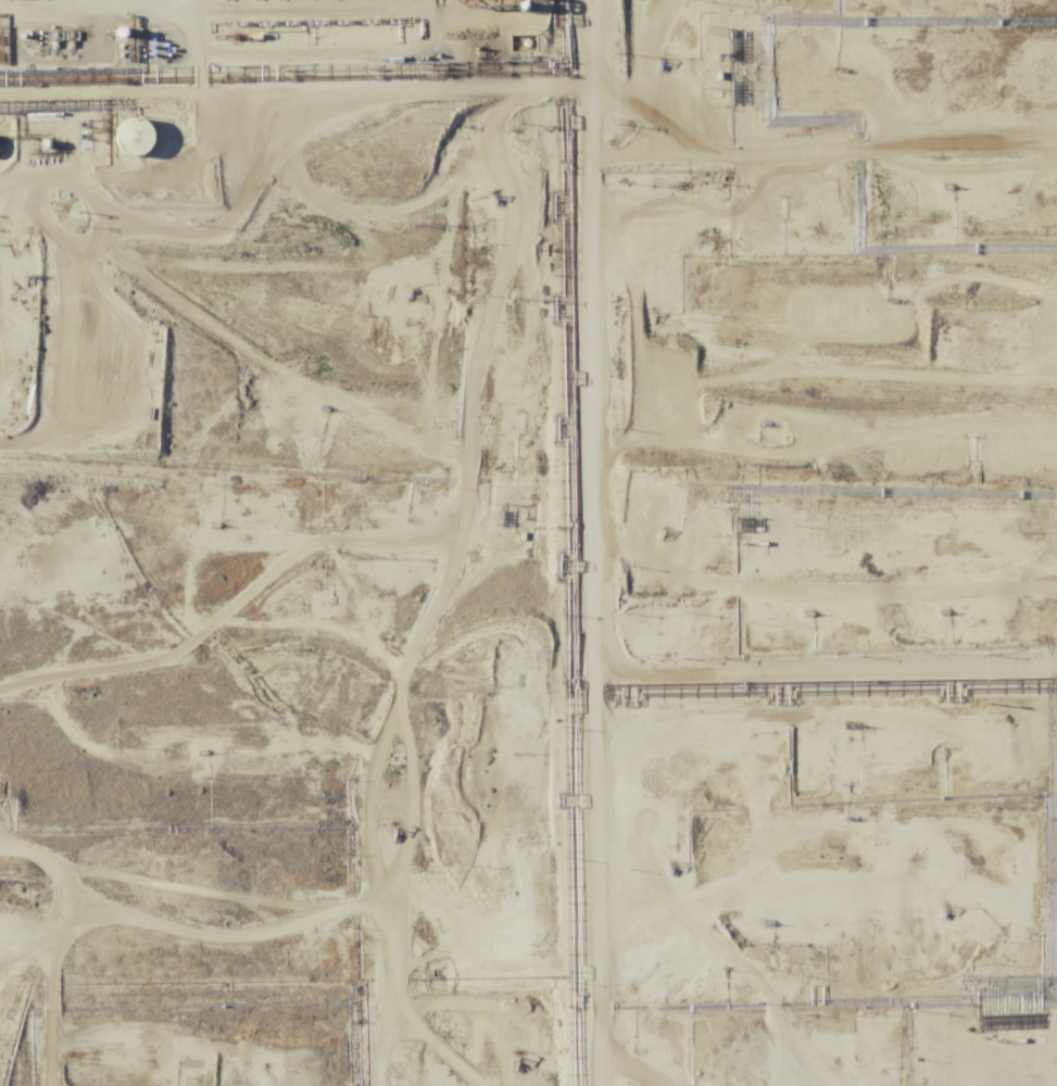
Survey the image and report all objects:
building: (11, 29)
road: (889, 109)
building: (135, 137)
road: (314, 490)

